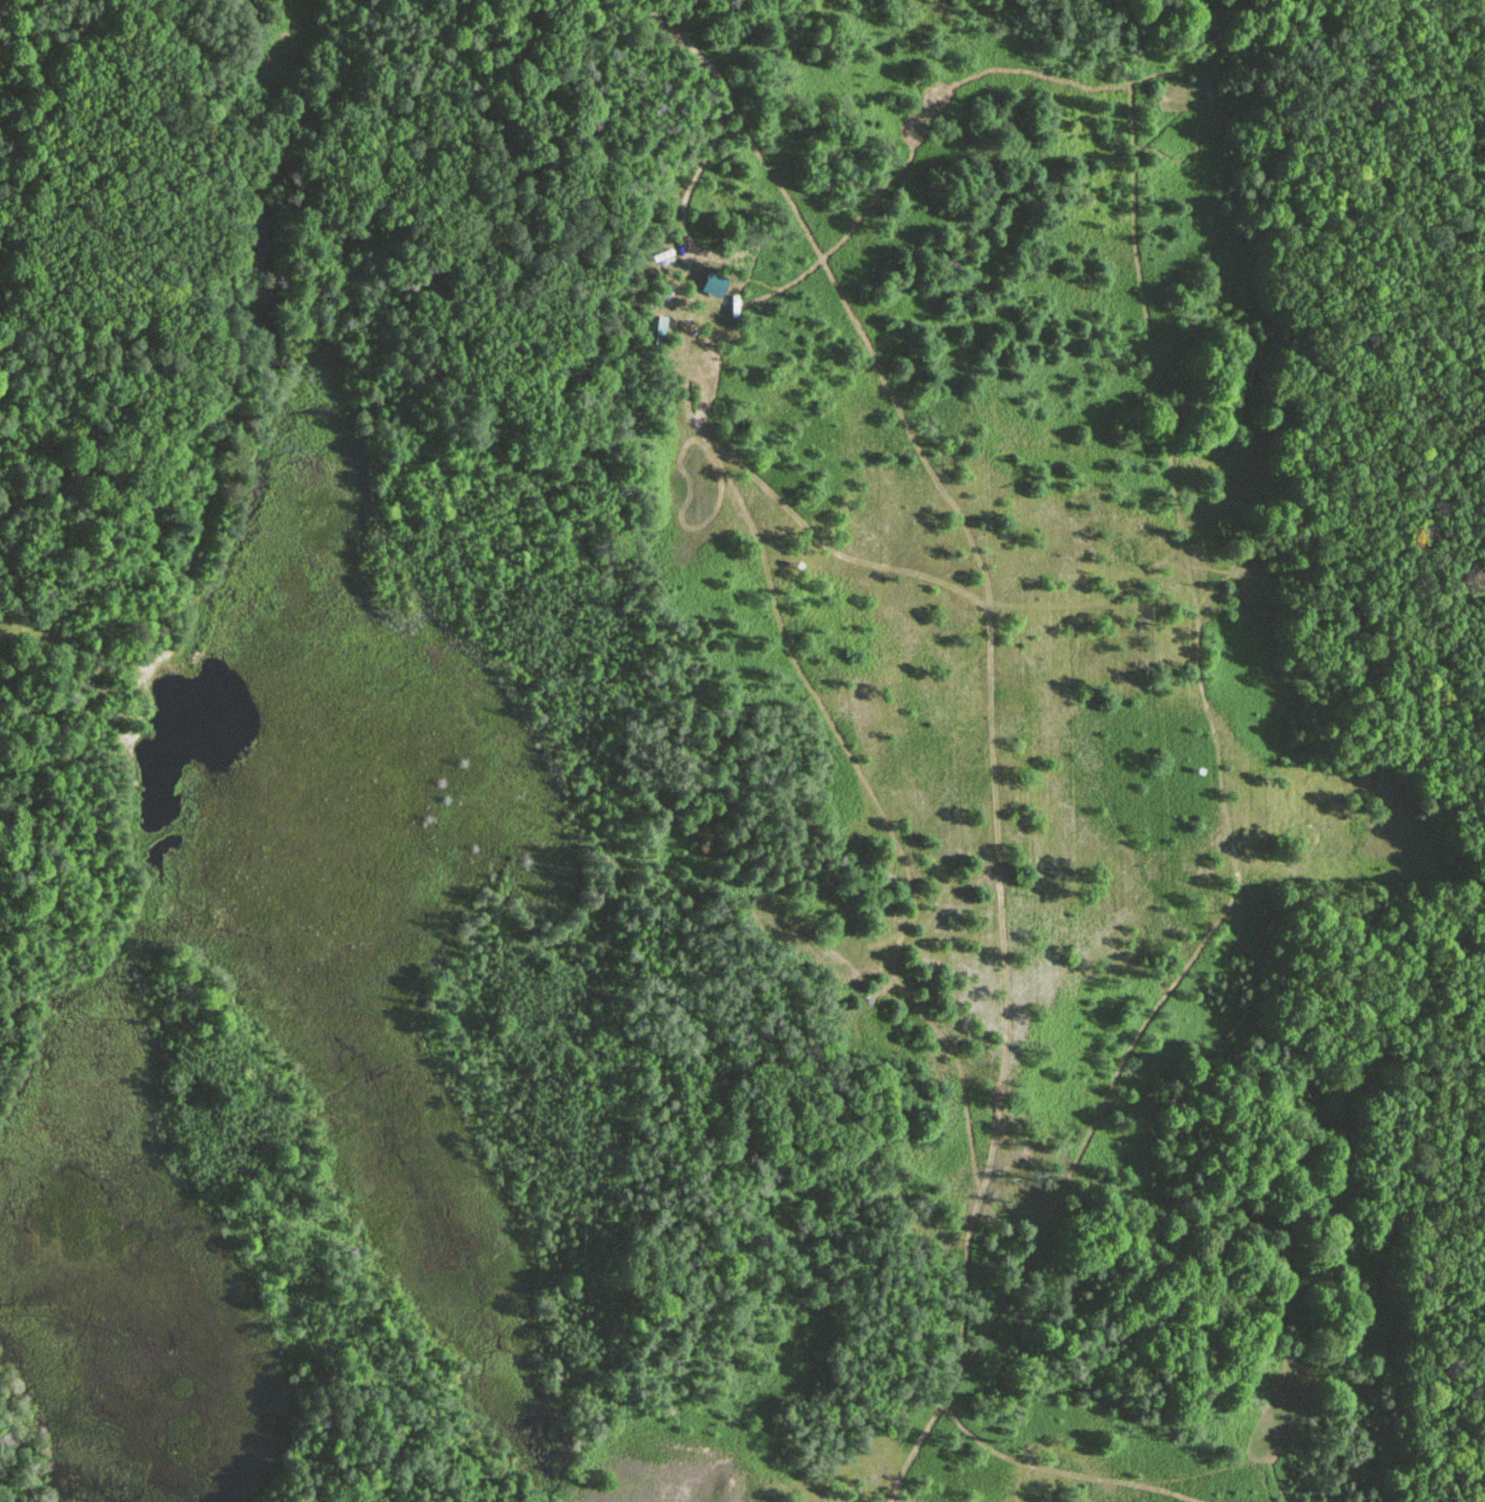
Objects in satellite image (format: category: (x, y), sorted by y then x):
road: (714, 133)
building: (653, 329)
road: (1129, 1056)

